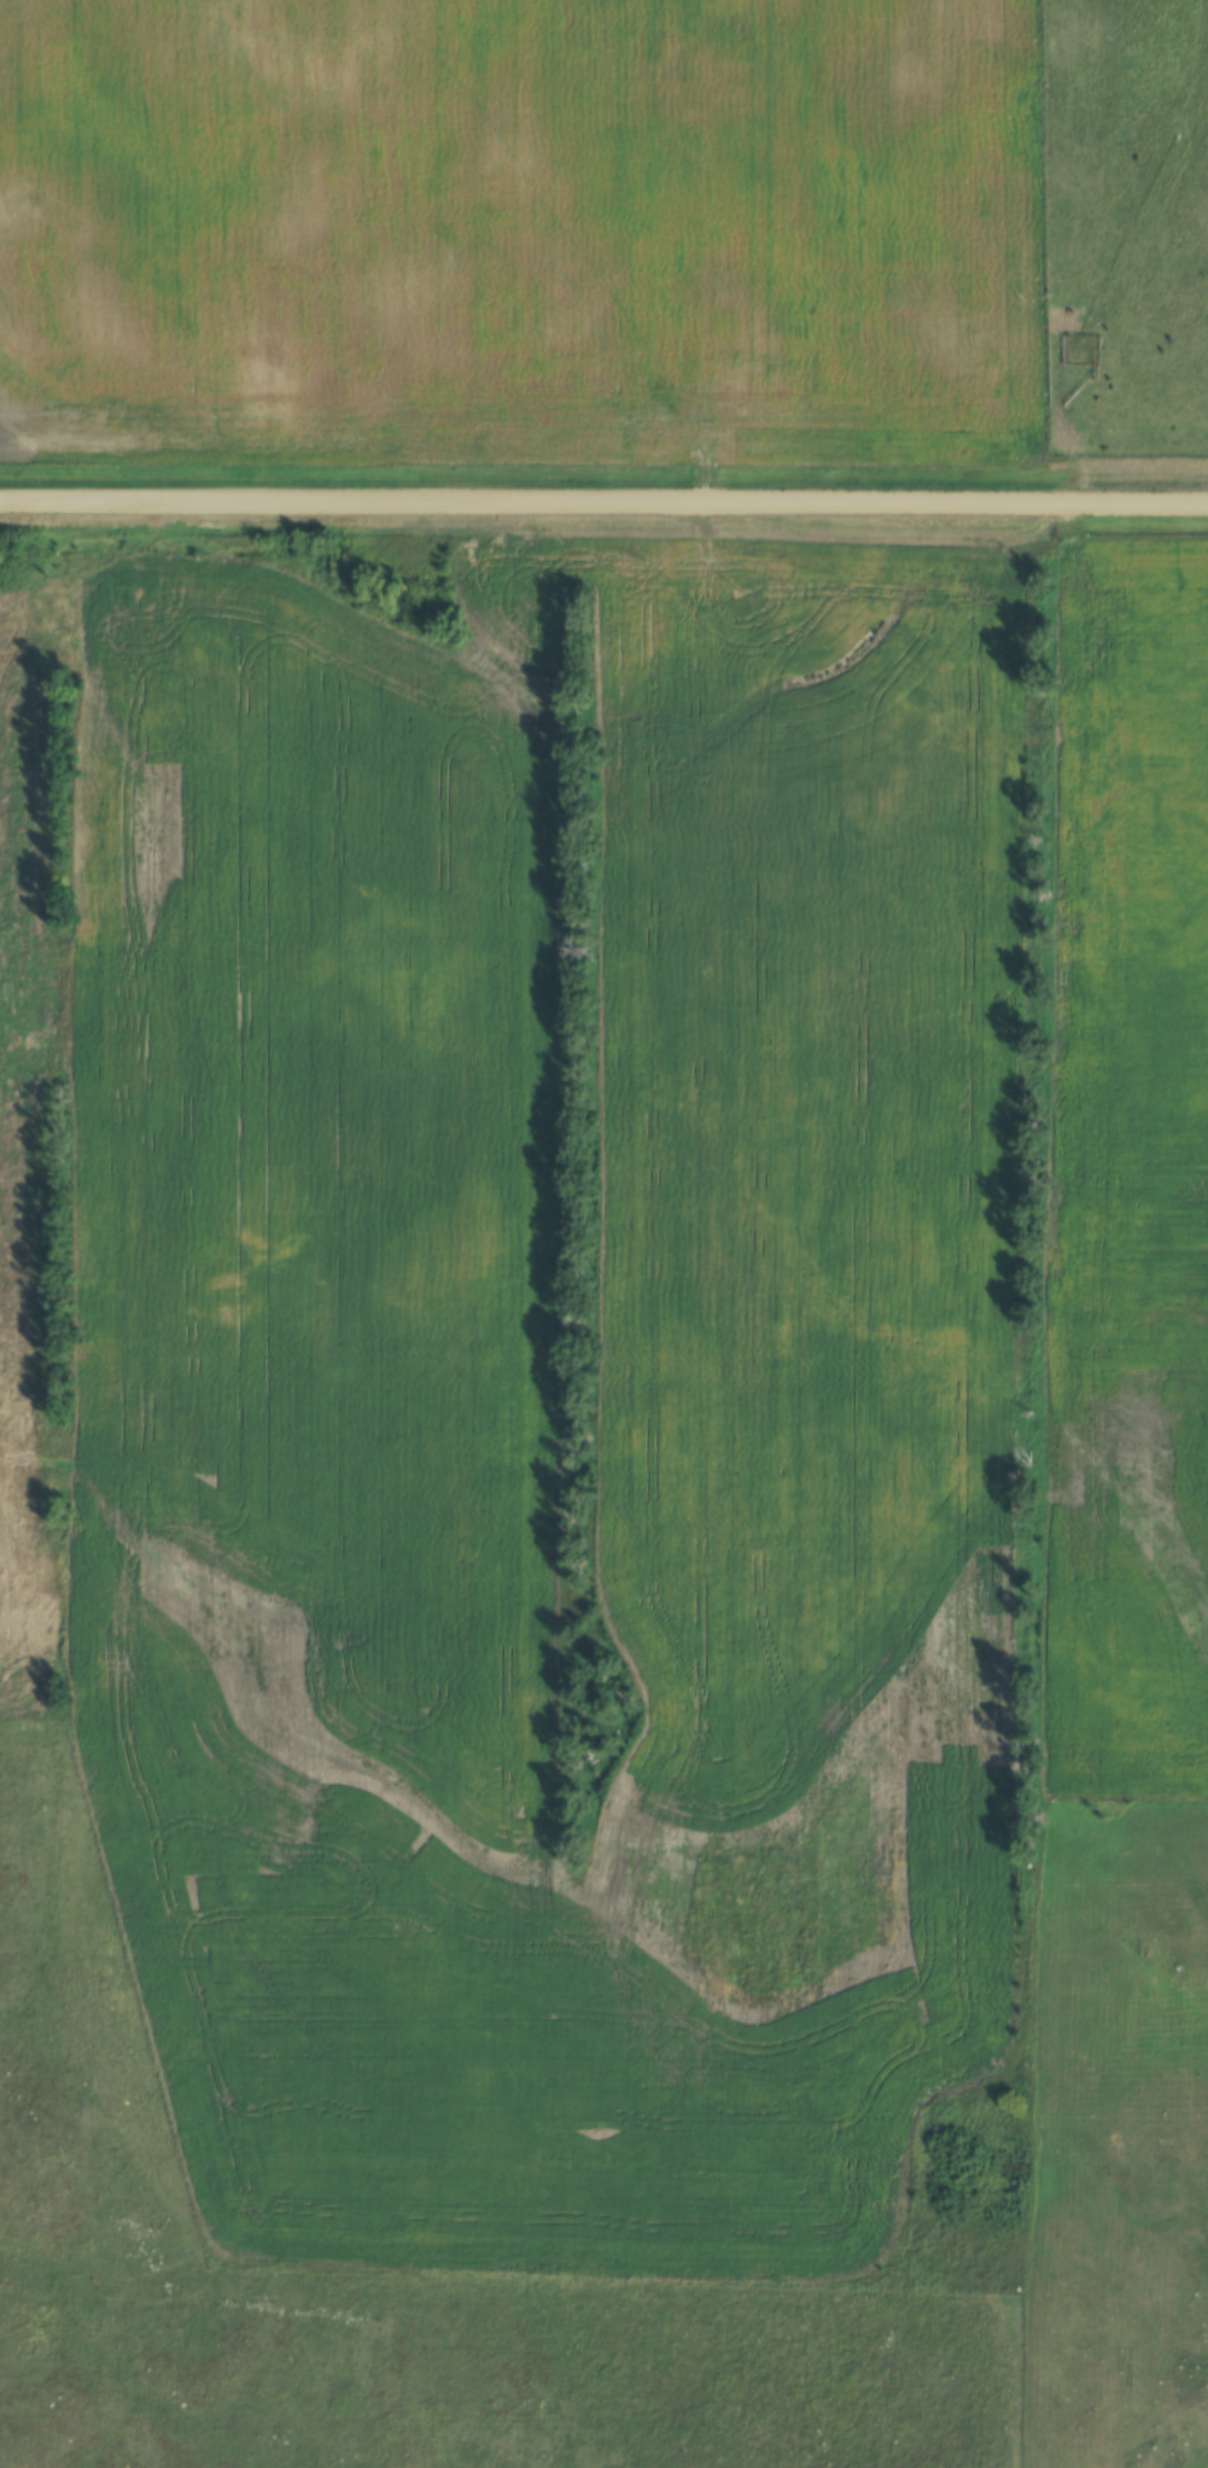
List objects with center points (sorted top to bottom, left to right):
road: (603, 507)

